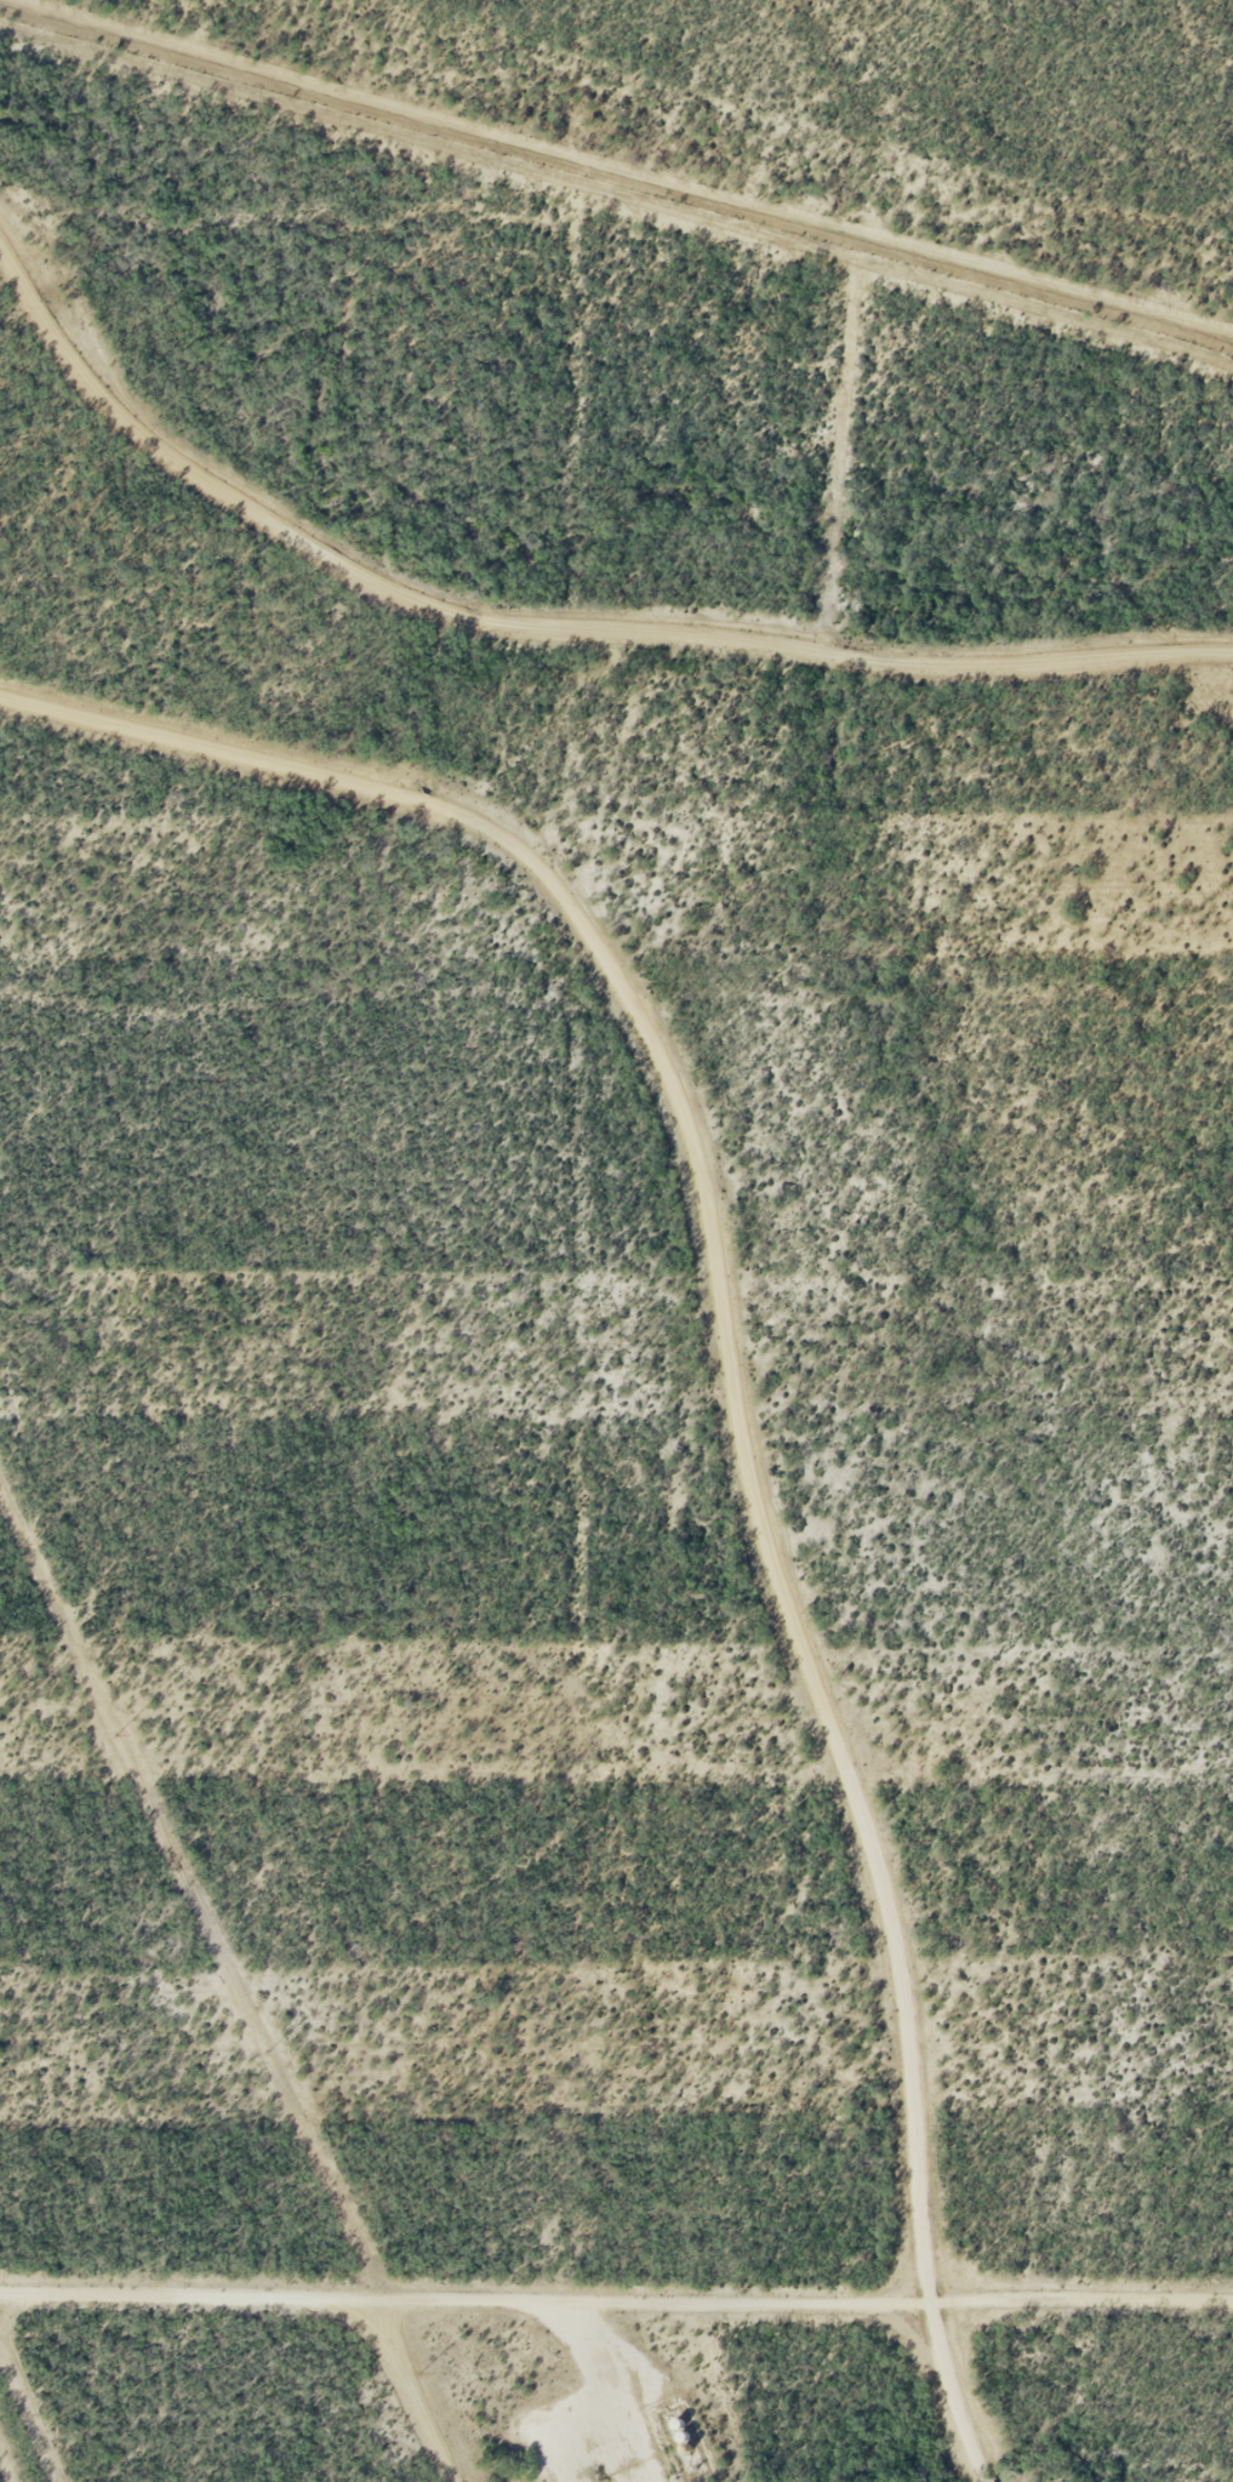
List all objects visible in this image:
road: (733, 1382)
power tower: (113, 1730)
power tower: (268, 2053)
power tower: (418, 2372)

